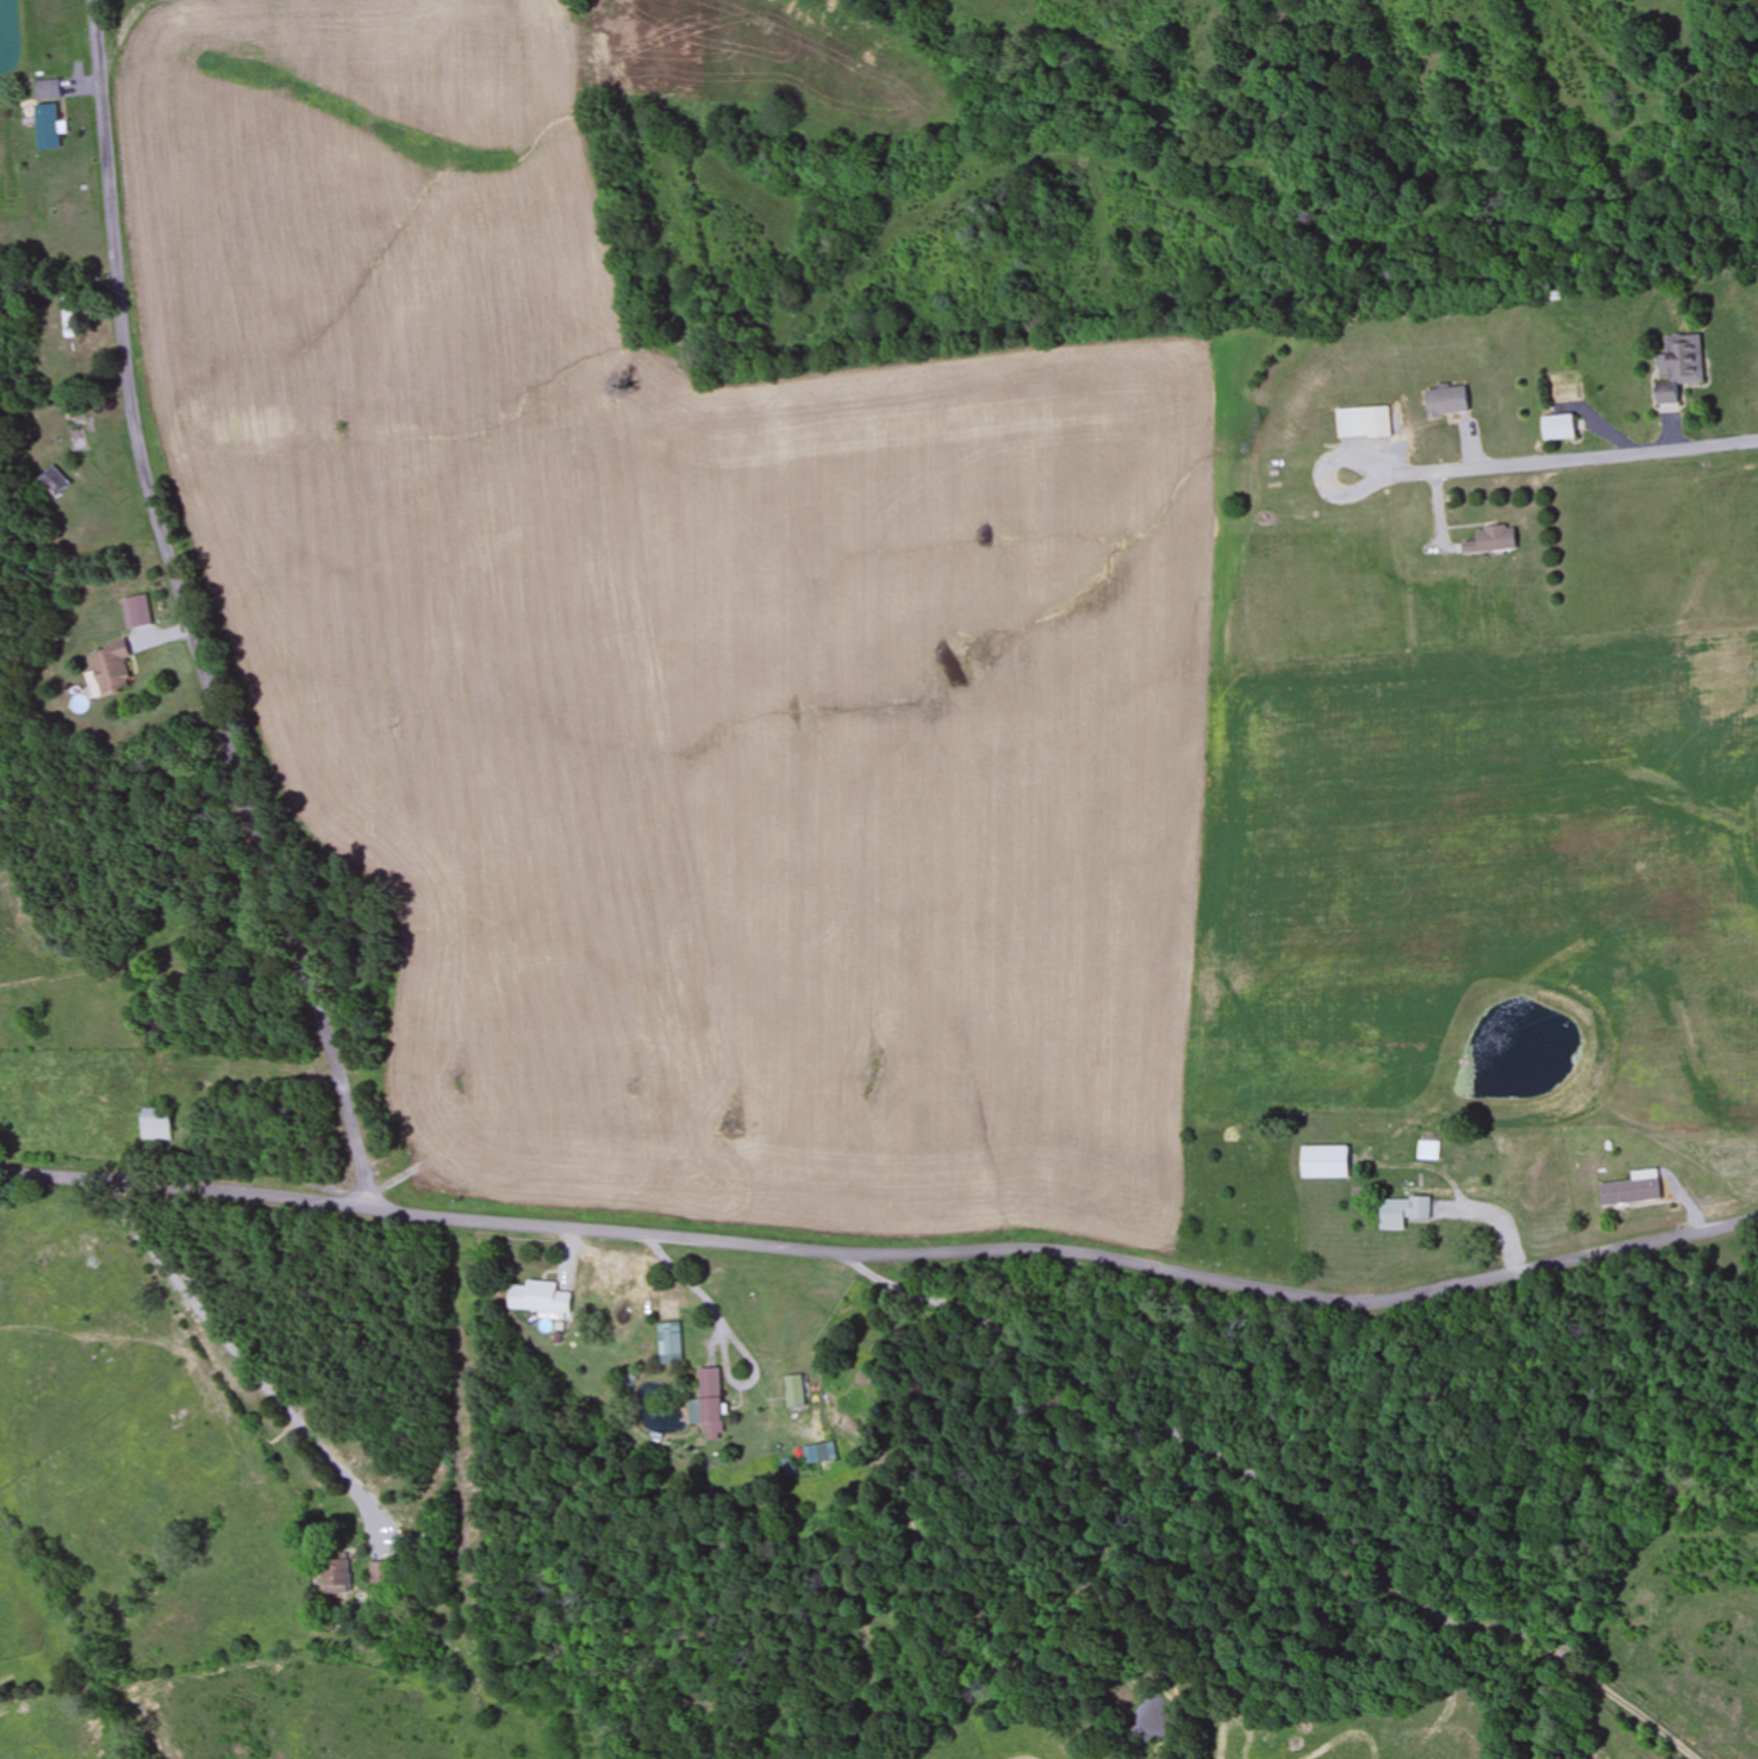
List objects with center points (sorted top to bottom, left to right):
building: (48, 89)
building: (48, 126)
building: (68, 314)
building: (1682, 368)
building: (1450, 403)
building: (1365, 423)
building: (1559, 429)
road: (1575, 461)
road: (1355, 466)
building: (54, 480)
road: (1351, 492)
building: (1495, 539)
road: (183, 616)
building: (111, 669)
building: (157, 1124)
building: (1430, 1149)
building: (1327, 1161)
building: (1635, 1190)
building: (1405, 1211)
road: (884, 1253)
building: (93, 1262)
building: (541, 1297)
building: (671, 1343)
road: (207, 1367)
building: (798, 1391)
building: (711, 1403)
building: (823, 1454)
road: (1222, 1454)
building: (379, 1572)
building: (338, 1574)

